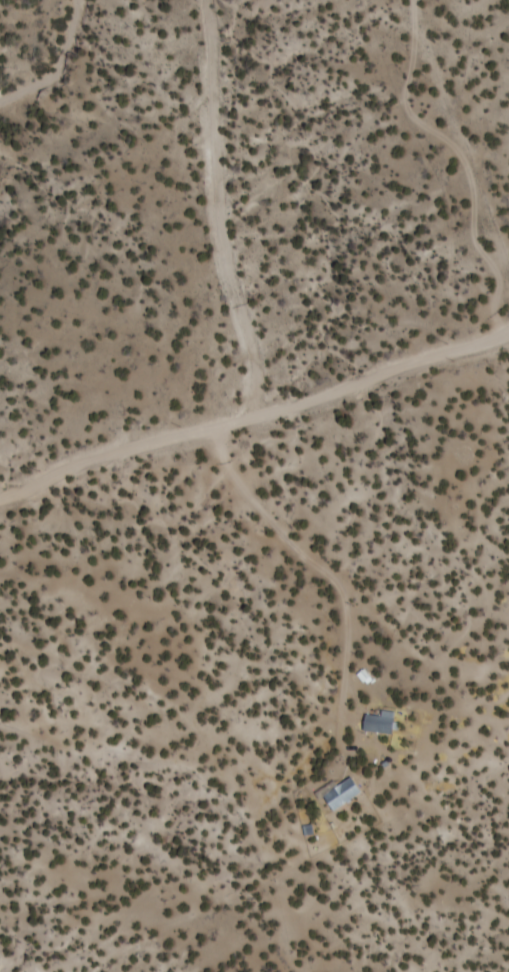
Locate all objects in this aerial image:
road: (470, 154)
road: (222, 205)
road: (253, 408)
road: (331, 562)
building: (385, 715)
building: (391, 722)
building: (347, 785)
building: (313, 821)

